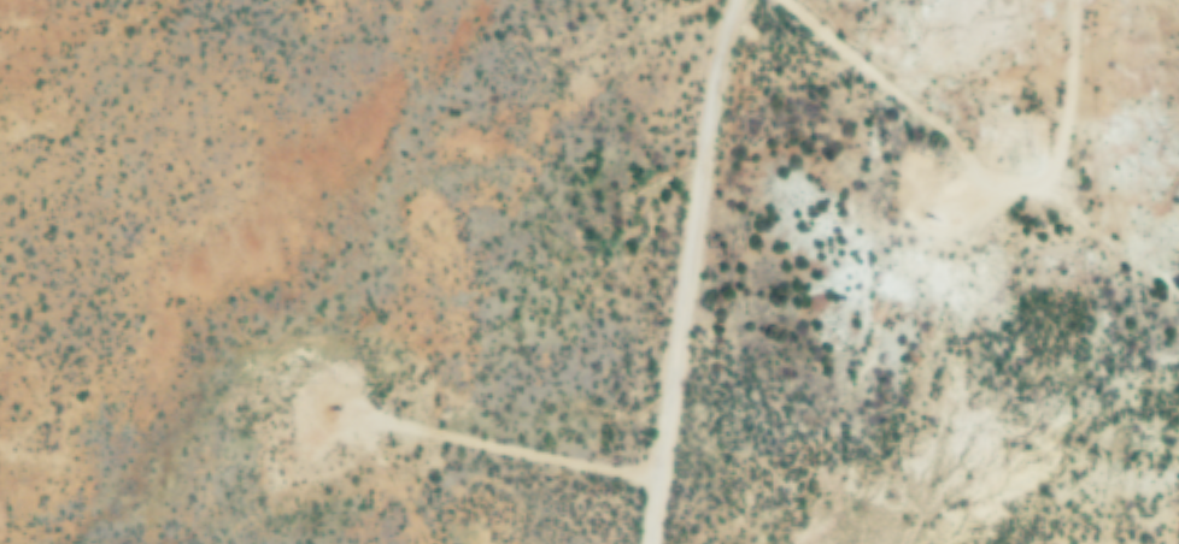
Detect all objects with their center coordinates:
road: (976, 158)
road: (691, 270)

